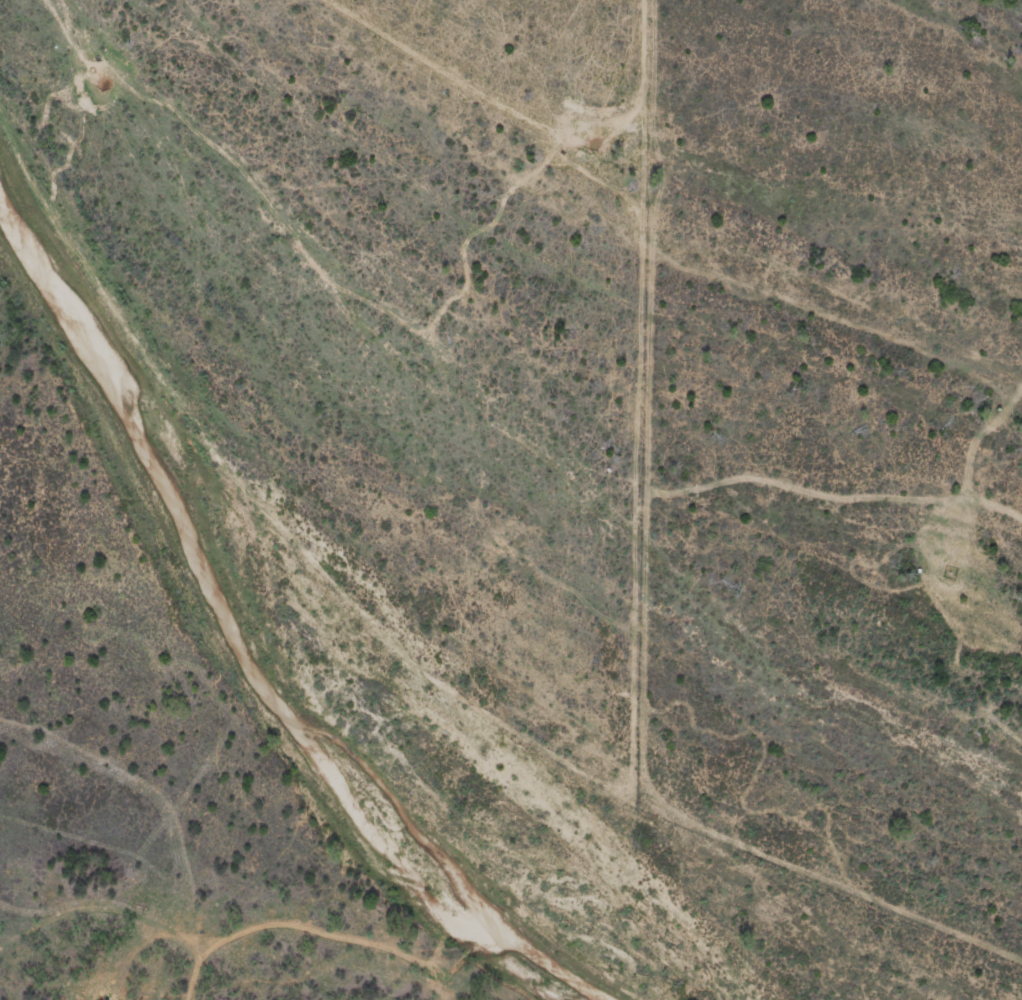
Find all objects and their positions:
river: (245, 648)
road: (82, 884)
road: (151, 991)

